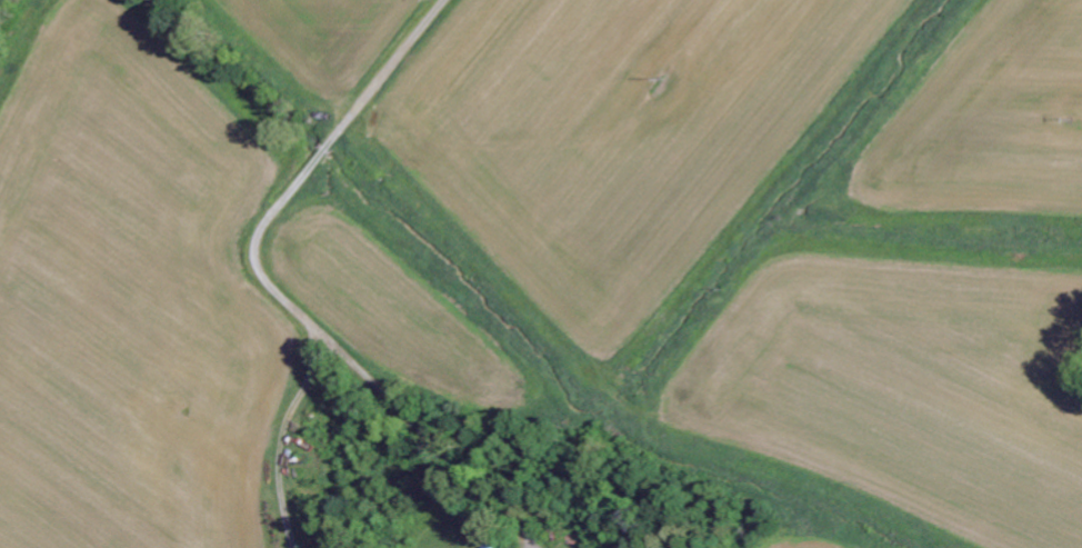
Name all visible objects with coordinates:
road: (344, 289)

